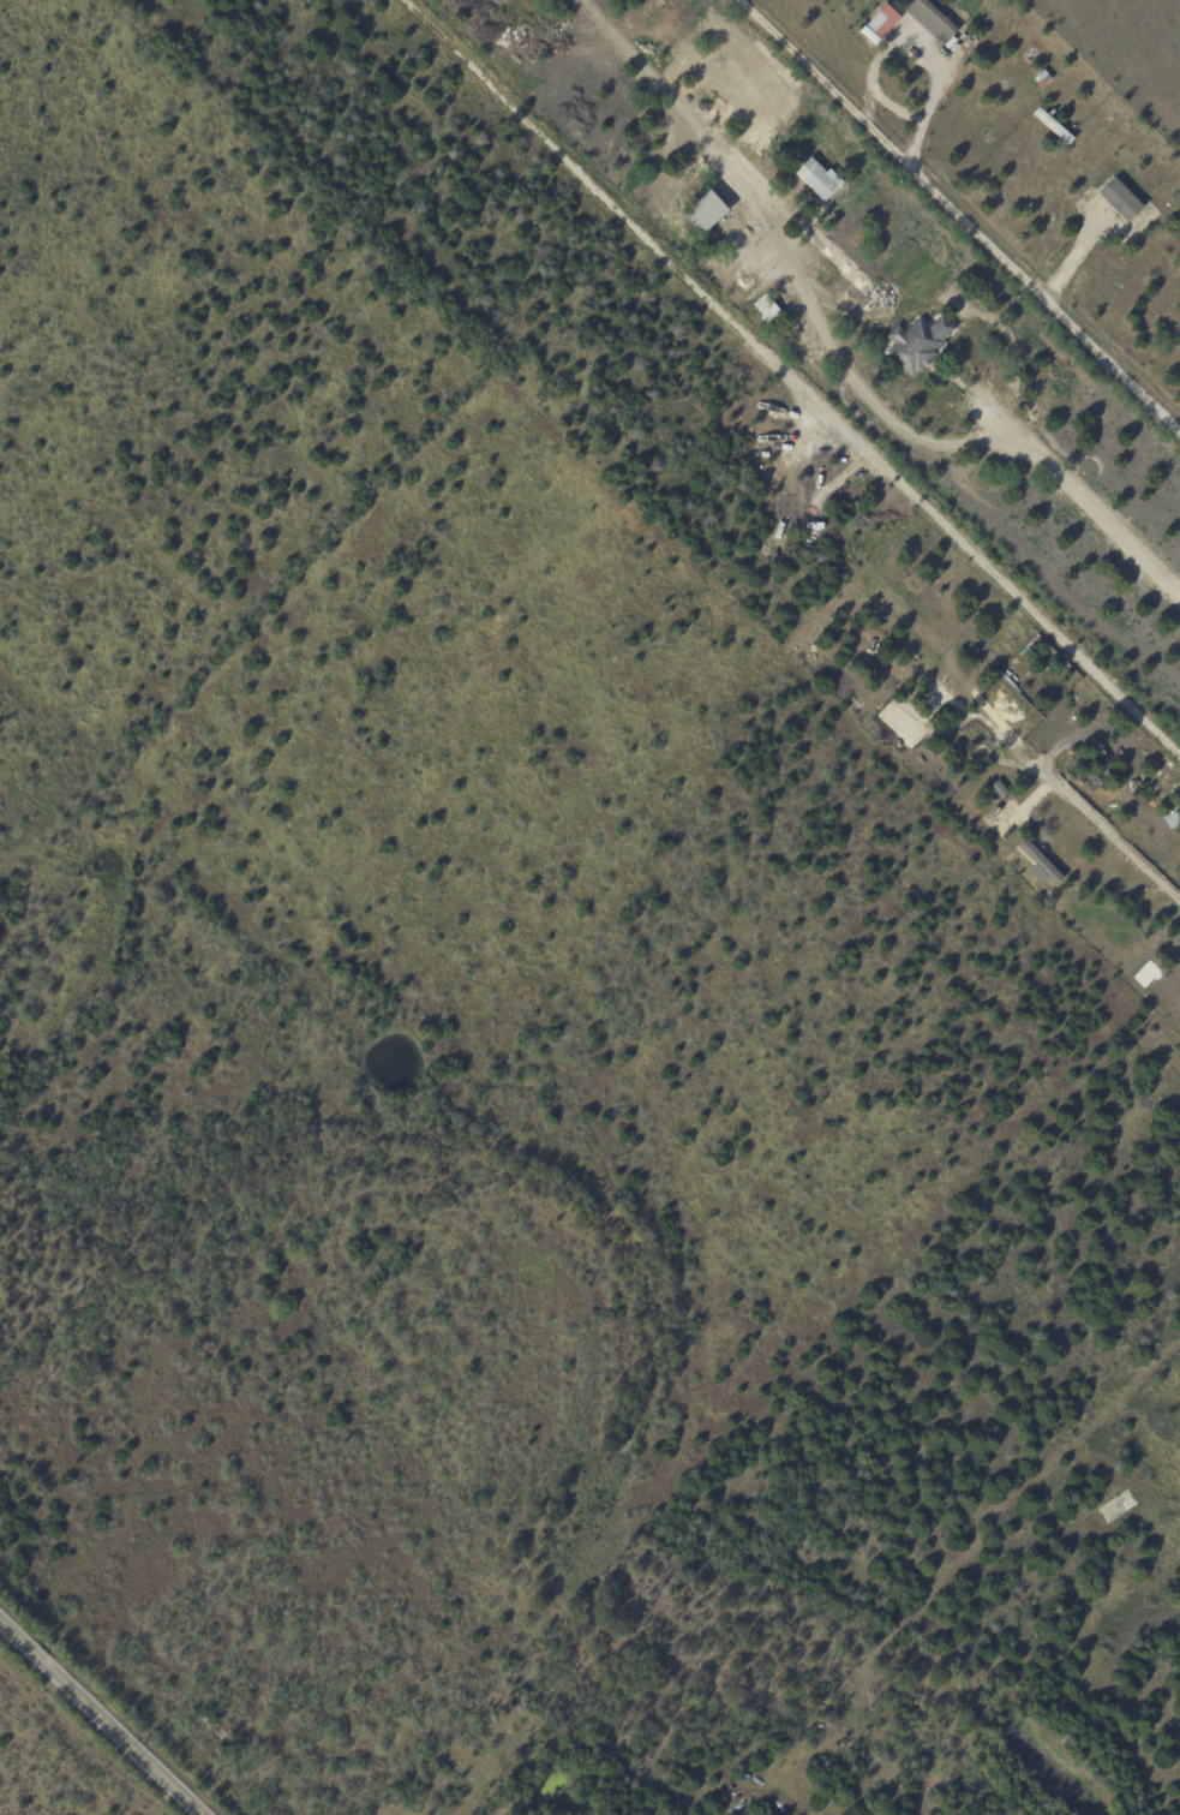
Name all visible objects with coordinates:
building: (883, 20)
building: (936, 22)
building: (982, 37)
building: (1043, 79)
road: (827, 84)
building: (669, 132)
building: (819, 178)
building: (665, 197)
building: (1125, 201)
building: (705, 211)
building: (690, 231)
building: (717, 259)
road: (1008, 267)
building: (768, 311)
building: (918, 344)
road: (798, 371)
road: (896, 429)
road: (1106, 829)
building: (1044, 865)
building: (88, 1372)
building: (1113, 1511)
building: (993, 1676)
road: (101, 1717)
building: (831, 1726)
building: (821, 1727)
building: (815, 1730)

